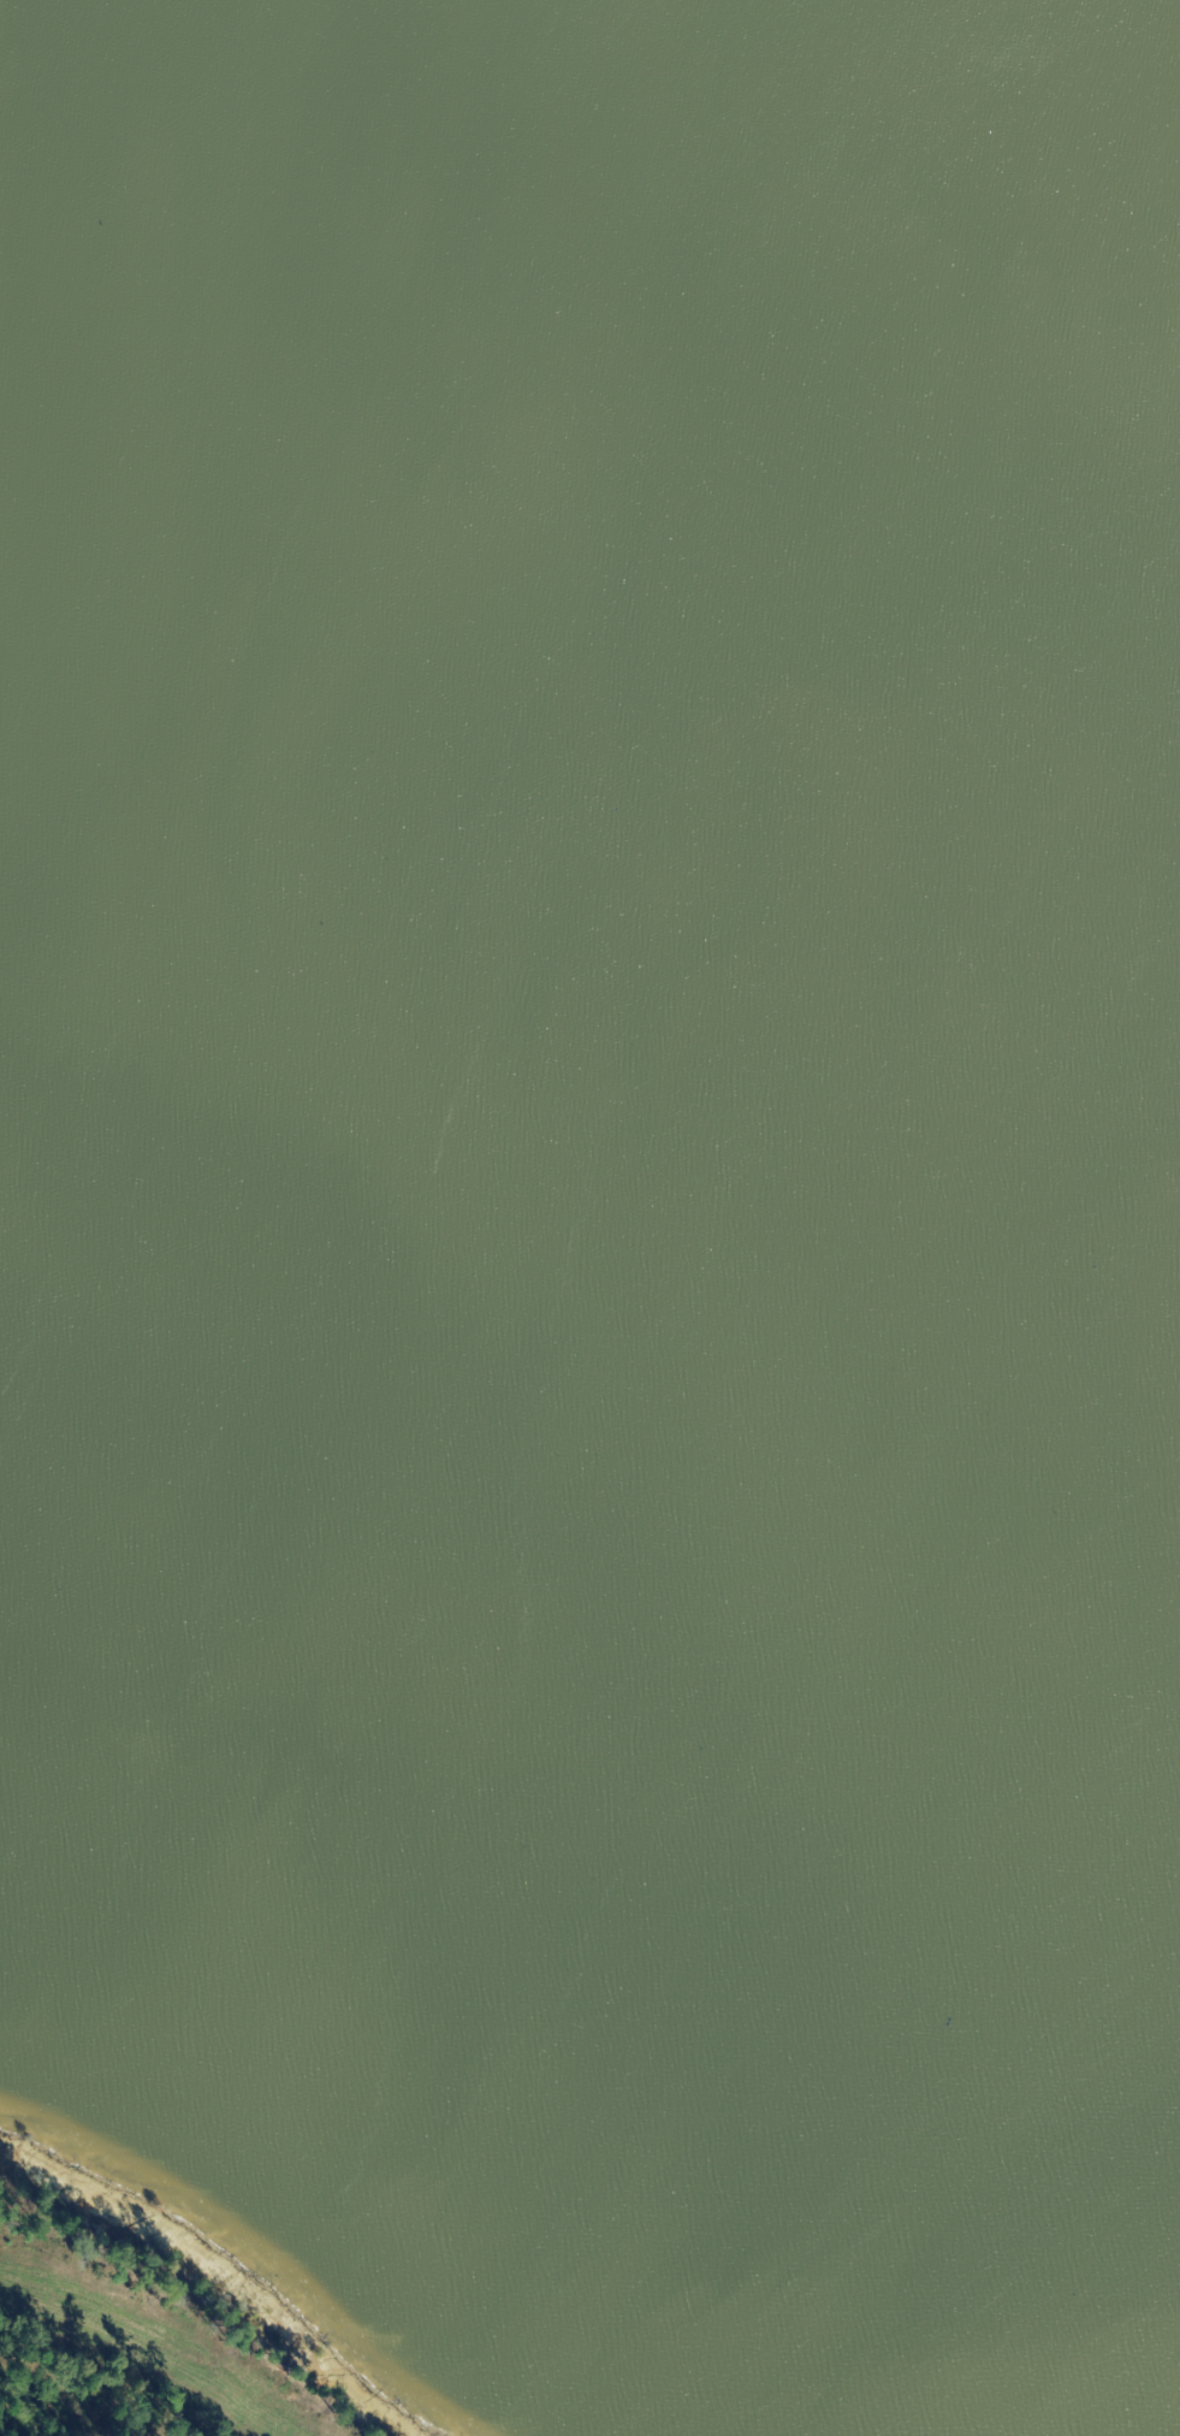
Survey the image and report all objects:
river: (891, 107)

